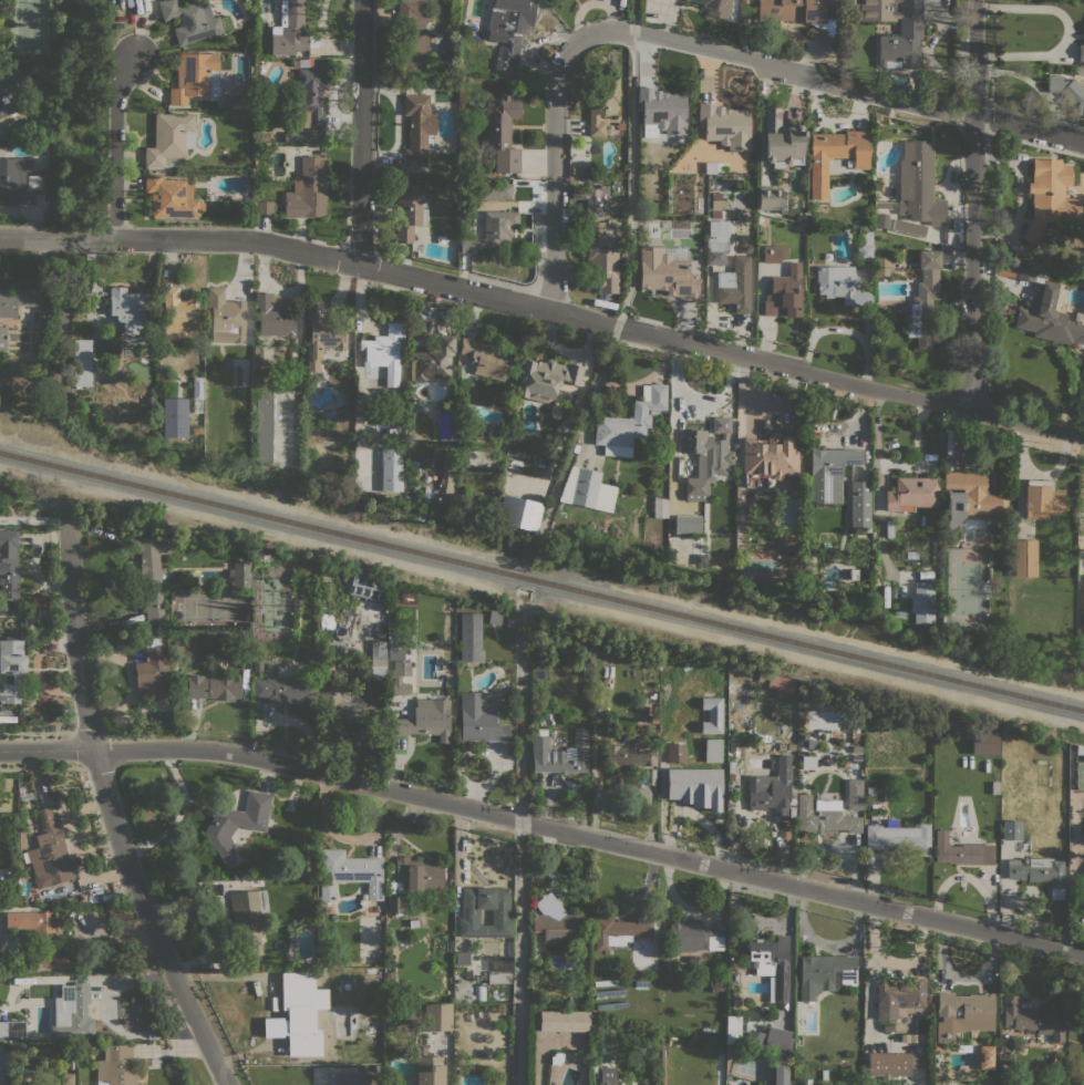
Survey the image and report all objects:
building: (249, 3)
building: (851, 3)
building: (714, 7)
building: (801, 13)
building: (193, 20)
building: (508, 27)
building: (291, 30)
building: (910, 30)
road: (1065, 32)
building: (411, 38)
building: (1081, 52)
building: (22, 56)
building: (303, 62)
building: (33, 68)
road: (776, 69)
building: (1080, 69)
building: (194, 76)
building: (1068, 91)
building: (4, 94)
building: (913, 95)
building: (309, 97)
building: (601, 101)
building: (245, 105)
building: (662, 108)
building: (724, 124)
building: (417, 127)
road: (1029, 128)
building: (503, 132)
road: (360, 133)
building: (300, 136)
building: (169, 137)
building: (266, 139)
building: (782, 139)
road: (115, 145)
building: (835, 155)
road: (559, 173)
building: (14, 180)
building: (33, 182)
building: (879, 183)
building: (918, 184)
building: (309, 189)
building: (498, 189)
building: (172, 196)
building: (716, 196)
building: (1050, 196)
building: (588, 198)
building: (772, 198)
building: (717, 204)
building: (882, 204)
road: (973, 205)
building: (264, 207)
building: (410, 208)
building: (716, 215)
building: (801, 215)
building: (761, 220)
building: (881, 220)
building: (749, 227)
building: (909, 227)
building: (492, 230)
building: (716, 241)
building: (864, 247)
building: (774, 254)
building: (601, 258)
building: (881, 266)
building: (1014, 270)
building: (667, 272)
building: (842, 283)
building: (734, 285)
building: (784, 293)
building: (14, 299)
building: (925, 301)
road: (546, 307)
building: (133, 309)
building: (179, 313)
building: (275, 316)
building: (226, 317)
building: (1050, 317)
building: (61, 321)
building: (323, 333)
building: (3, 338)
building: (384, 351)
building: (488, 359)
building: (80, 360)
building: (433, 362)
building: (546, 378)
building: (209, 384)
building: (197, 393)
building: (244, 397)
building: (149, 400)
building: (727, 412)
building: (175, 416)
building: (629, 423)
building: (446, 424)
building: (264, 426)
building: (197, 431)
building: (467, 445)
building: (572, 445)
building: (771, 454)
building: (704, 461)
building: (390, 468)
building: (828, 473)
building: (446, 475)
building: (580, 486)
building: (911, 493)
building: (970, 496)
building: (1042, 498)
building: (859, 503)
building: (659, 507)
building: (519, 513)
building: (686, 524)
building: (260, 557)
building: (700, 558)
building: (1024, 558)
building: (875, 561)
building: (9, 565)
building: (153, 573)
building: (854, 573)
building: (240, 575)
building: (332, 575)
railway: (541, 581)
building: (367, 587)
building: (922, 603)
building: (3, 607)
building: (376, 616)
building: (495, 617)
building: (510, 621)
building: (153, 631)
building: (469, 637)
road: (75, 638)
building: (390, 654)
building: (378, 659)
building: (258, 665)
building: (11, 669)
building: (322, 671)
building: (153, 672)
building: (400, 678)
building: (781, 683)
building: (214, 686)
building: (285, 690)
building: (347, 703)
building: (710, 714)
building: (654, 719)
building: (425, 720)
building: (478, 720)
building: (829, 720)
building: (540, 732)
building: (767, 736)
building: (716, 741)
building: (984, 742)
building: (781, 746)
building: (791, 746)
road: (47, 748)
building: (711, 750)
building: (1080, 750)
building: (684, 753)
building: (560, 754)
building: (628, 756)
building: (731, 766)
building: (692, 784)
building: (994, 787)
building: (31, 788)
building: (773, 788)
building: (870, 790)
building: (854, 794)
building: (825, 820)
building: (238, 824)
building: (1011, 829)
road: (590, 836)
building: (898, 837)
building: (21, 839)
building: (961, 850)
building: (51, 858)
building: (1023, 859)
building: (348, 872)
building: (1039, 872)
building: (422, 876)
building: (82, 897)
building: (395, 905)
building: (500, 913)
building: (485, 916)
road: (78, 919)
road: (149, 920)
building: (248, 920)
building: (559, 923)
building: (619, 931)
building: (695, 937)
building: (38, 938)
building: (337, 947)
building: (391, 951)
building: (771, 964)
building: (824, 972)
road: (889, 972)
building: (499, 976)
building: (716, 985)
building: (534, 989)
building: (899, 996)
building: (705, 1006)
building: (75, 1011)
building: (301, 1013)
building: (963, 1013)
building: (437, 1016)
building: (1032, 1019)
building: (564, 1021)
building: (733, 1029)
building: (12, 1030)
building: (709, 1030)
building: (756, 1042)
building: (93, 1044)
building: (777, 1044)
building: (1003, 1044)
building: (985, 1057)
building: (894, 1063)
building: (116, 1066)
building: (429, 1068)
building: (778, 1074)
building: (606, 1075)
building: (66, 1078)
building: (352, 1078)
building: (390, 1081)
building: (788, 1082)
building: (874, 1084)

